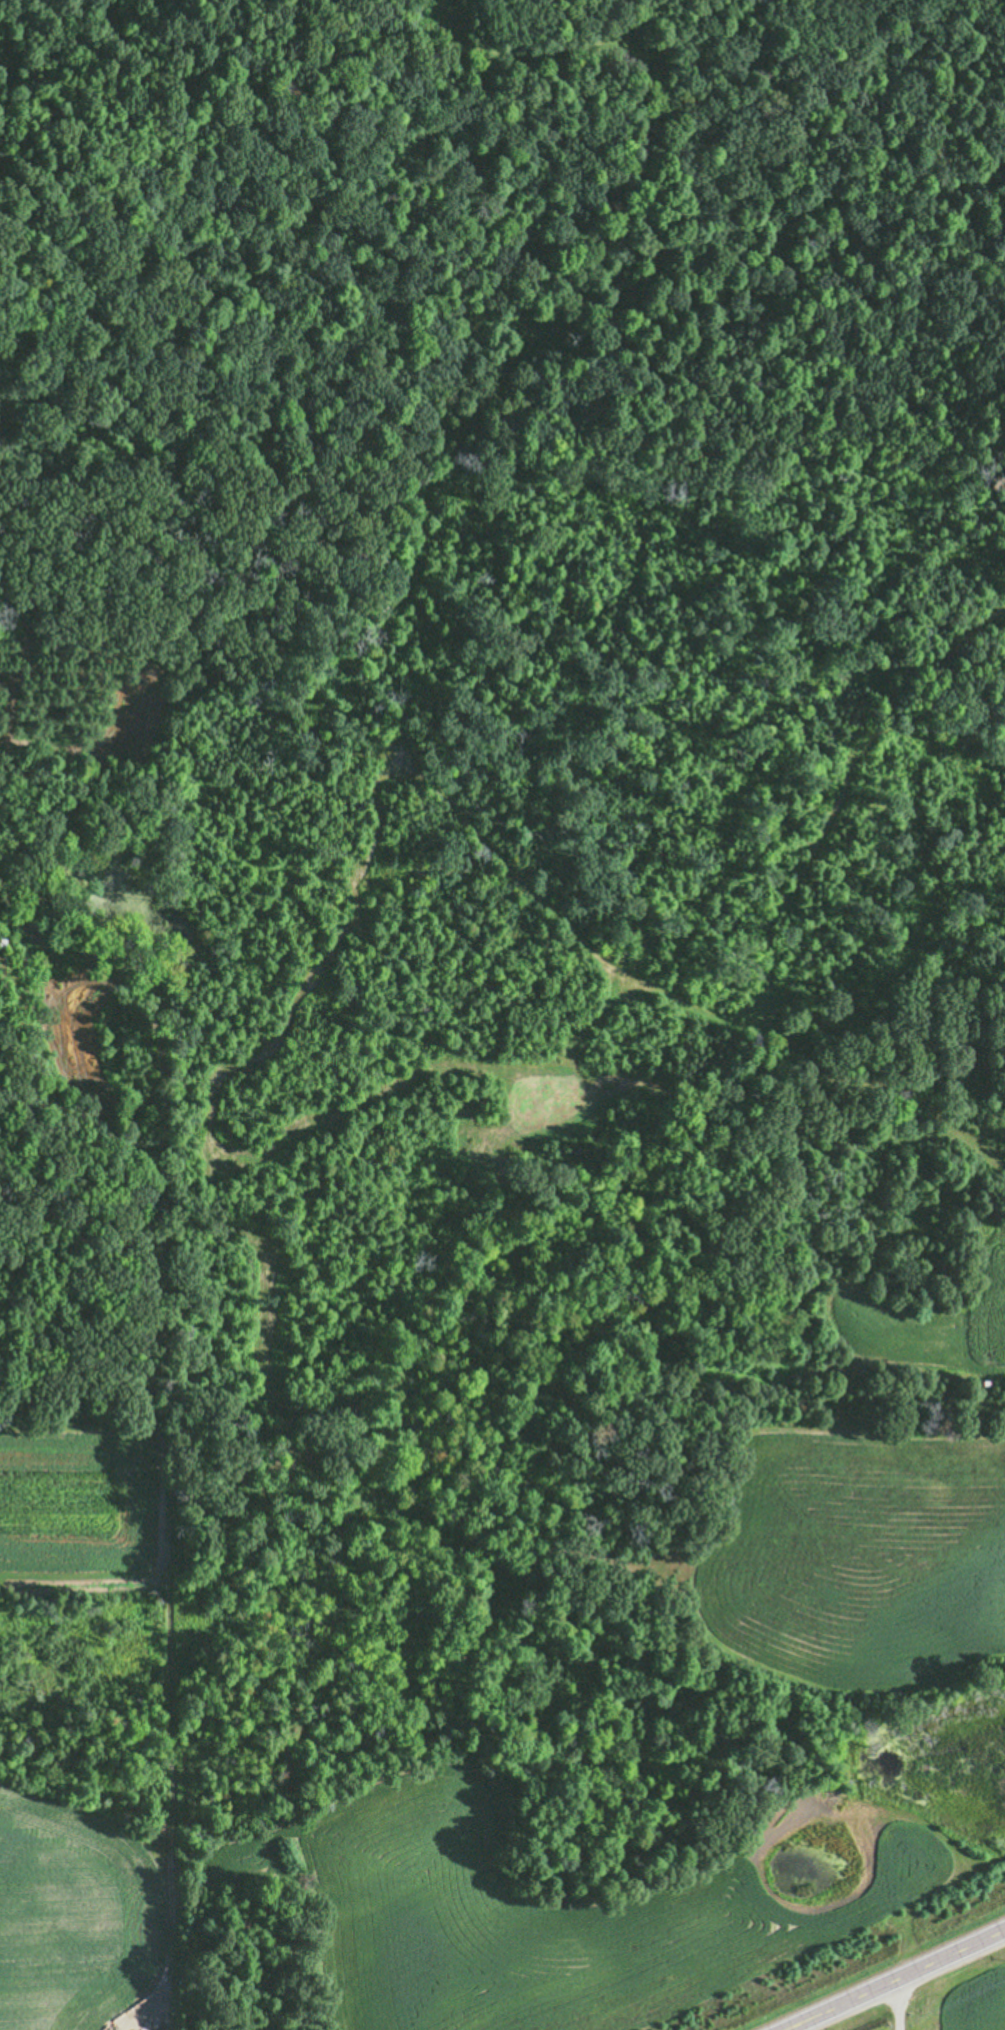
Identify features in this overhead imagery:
road: (893, 1979)
road: (896, 2004)

